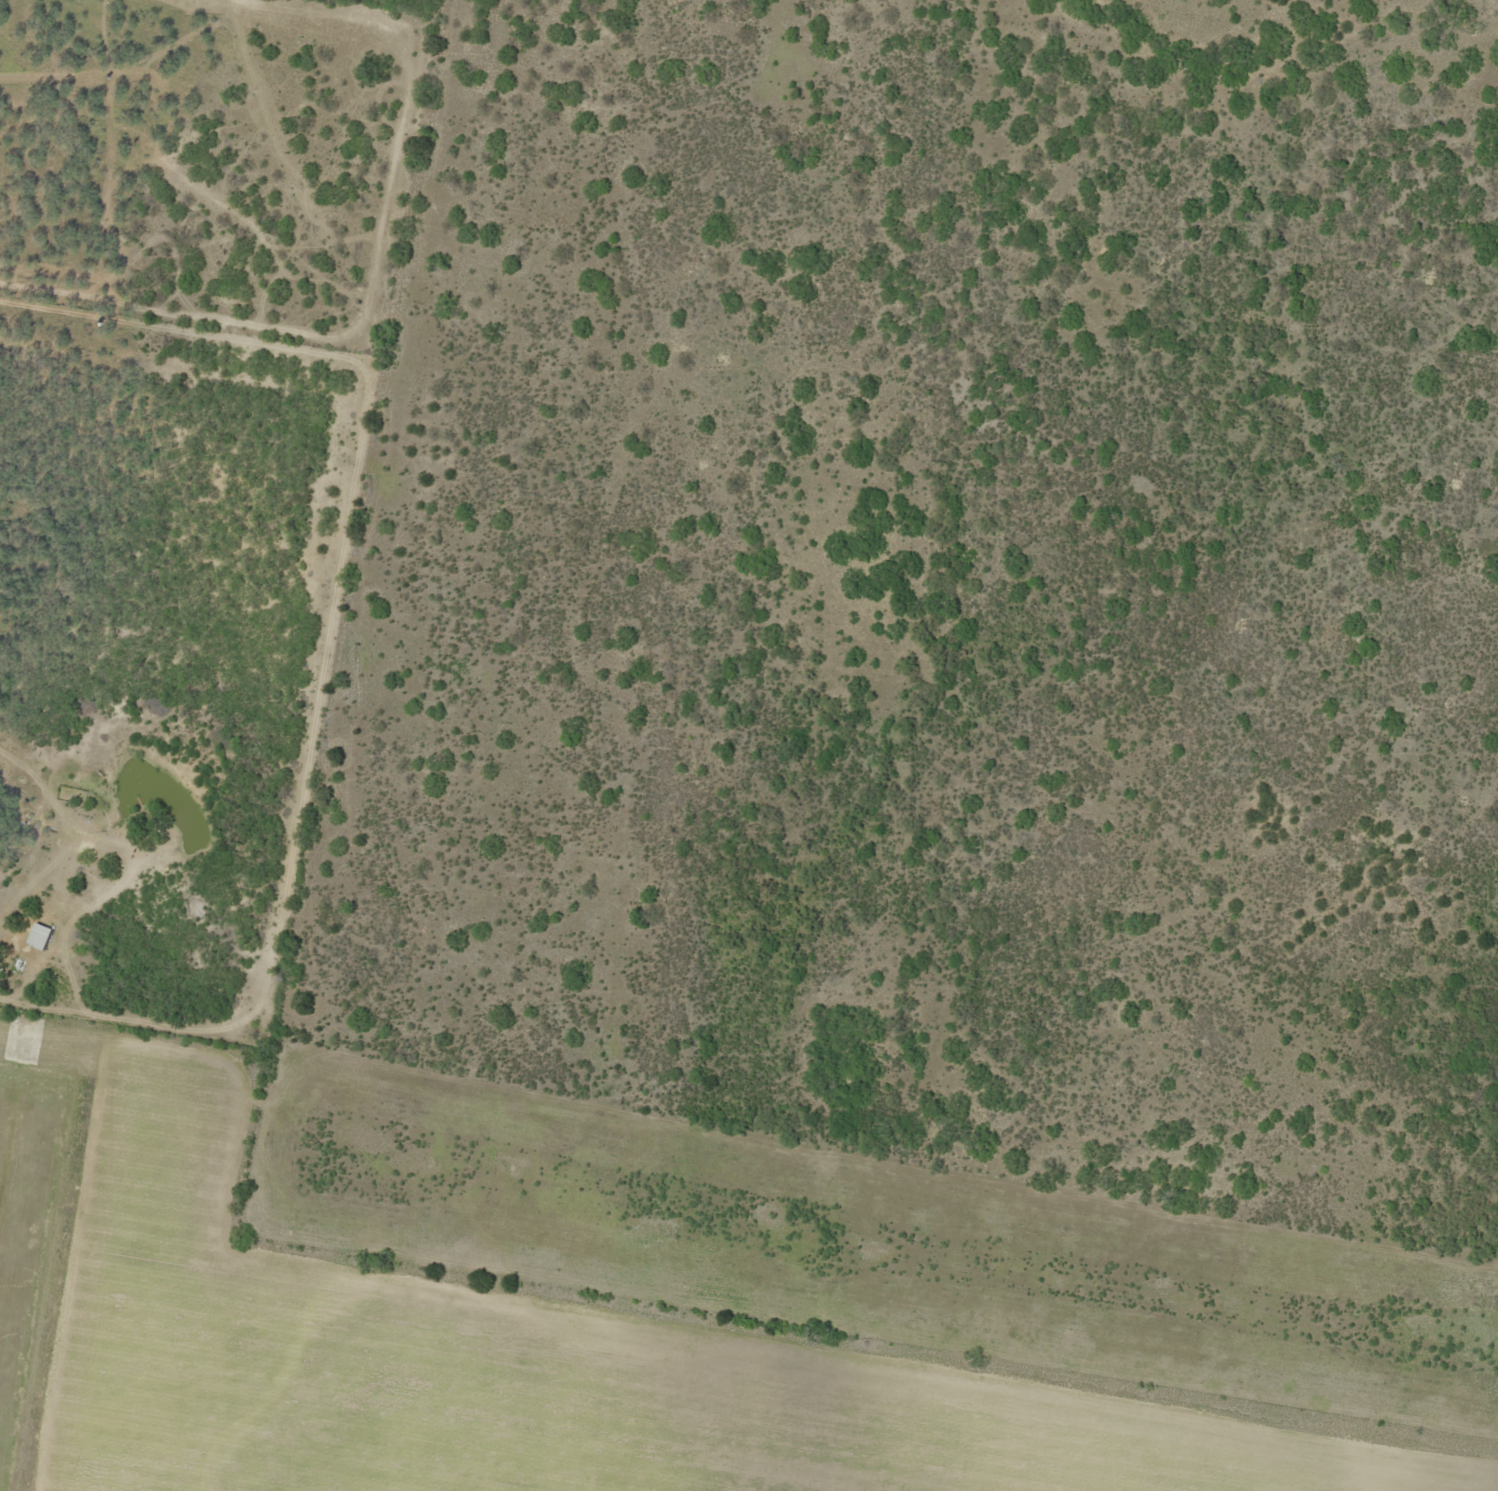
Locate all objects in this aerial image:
building: (37, 936)
road: (1044, 1349)

